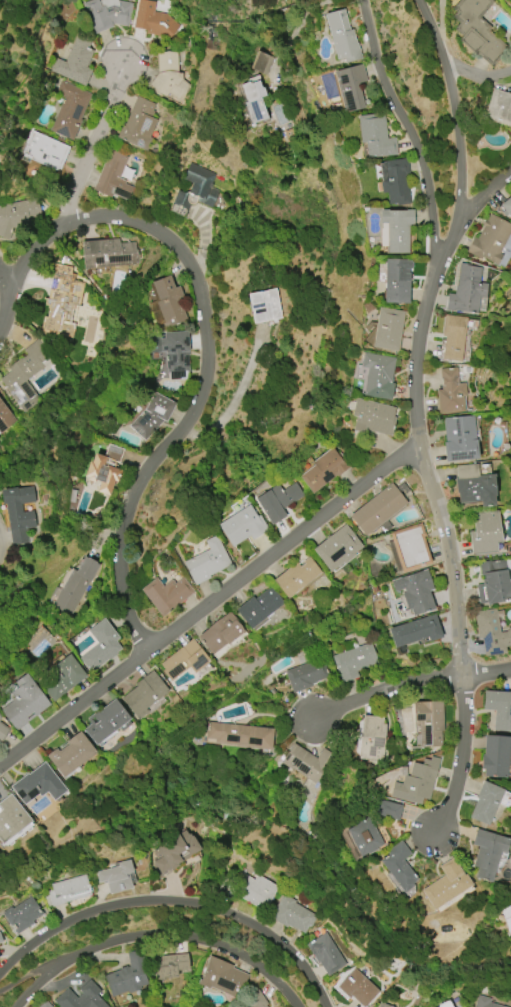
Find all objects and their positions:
building: (107, 13)
building: (153, 20)
road: (303, 26)
building: (477, 30)
building: (341, 36)
building: (75, 61)
building: (261, 63)
road: (476, 73)
building: (168, 75)
building: (351, 87)
building: (253, 100)
building: (499, 107)
building: (69, 110)
building: (138, 124)
building: (375, 136)
road: (414, 141)
road: (458, 144)
road: (92, 146)
building: (44, 151)
building: (113, 177)
building: (395, 181)
building: (197, 188)
road: (479, 199)
building: (507, 206)
building: (17, 216)
building: (396, 228)
building: (490, 240)
building: (108, 254)
building: (396, 280)
road: (4, 290)
building: (466, 290)
building: (168, 300)
building: (61, 302)
building: (264, 306)
building: (387, 329)
road: (206, 337)
building: (453, 337)
building: (172, 353)
road: (415, 364)
building: (25, 375)
building: (377, 376)
building: (450, 392)
building: (152, 415)
building: (372, 417)
building: (5, 418)
building: (460, 438)
building: (104, 469)
building: (324, 470)
road: (368, 479)
building: (474, 486)
building: (278, 501)
building: (379, 508)
building: (18, 513)
building: (242, 526)
building: (484, 533)
building: (410, 547)
building: (337, 548)
building: (207, 561)
building: (296, 577)
building: (493, 583)
building: (75, 586)
building: (415, 591)
building: (166, 594)
building: (259, 607)
building: (414, 632)
building: (219, 633)
building: (491, 633)
building: (100, 646)
building: (185, 660)
building: (354, 661)
building: (306, 675)
building: (61, 678)
road: (409, 683)
building: (145, 694)
building: (23, 703)
building: (499, 709)
building: (0, 718)
building: (106, 721)
building: (428, 722)
building: (3, 732)
building: (239, 735)
building: (372, 738)
building: (71, 754)
building: (494, 756)
building: (308, 762)
building: (417, 782)
building: (37, 784)
building: (485, 802)
building: (388, 810)
building: (11, 820)
building: (364, 837)
building: (175, 850)
building: (488, 853)
building: (399, 867)
building: (117, 877)
building: (445, 885)
building: (68, 890)
building: (255, 890)
road: (174, 901)
building: (292, 914)
building: (21, 915)
building: (507, 918)
road: (157, 934)
building: (0, 940)
building: (326, 954)
building: (168, 966)
road: (27, 974)
building: (127, 975)
building: (223, 978)
building: (358, 988)
building: (81, 997)
building: (255, 1000)
building: (486, 1002)
building: (45, 1004)
building: (445, 1004)
building: (384, 1005)

